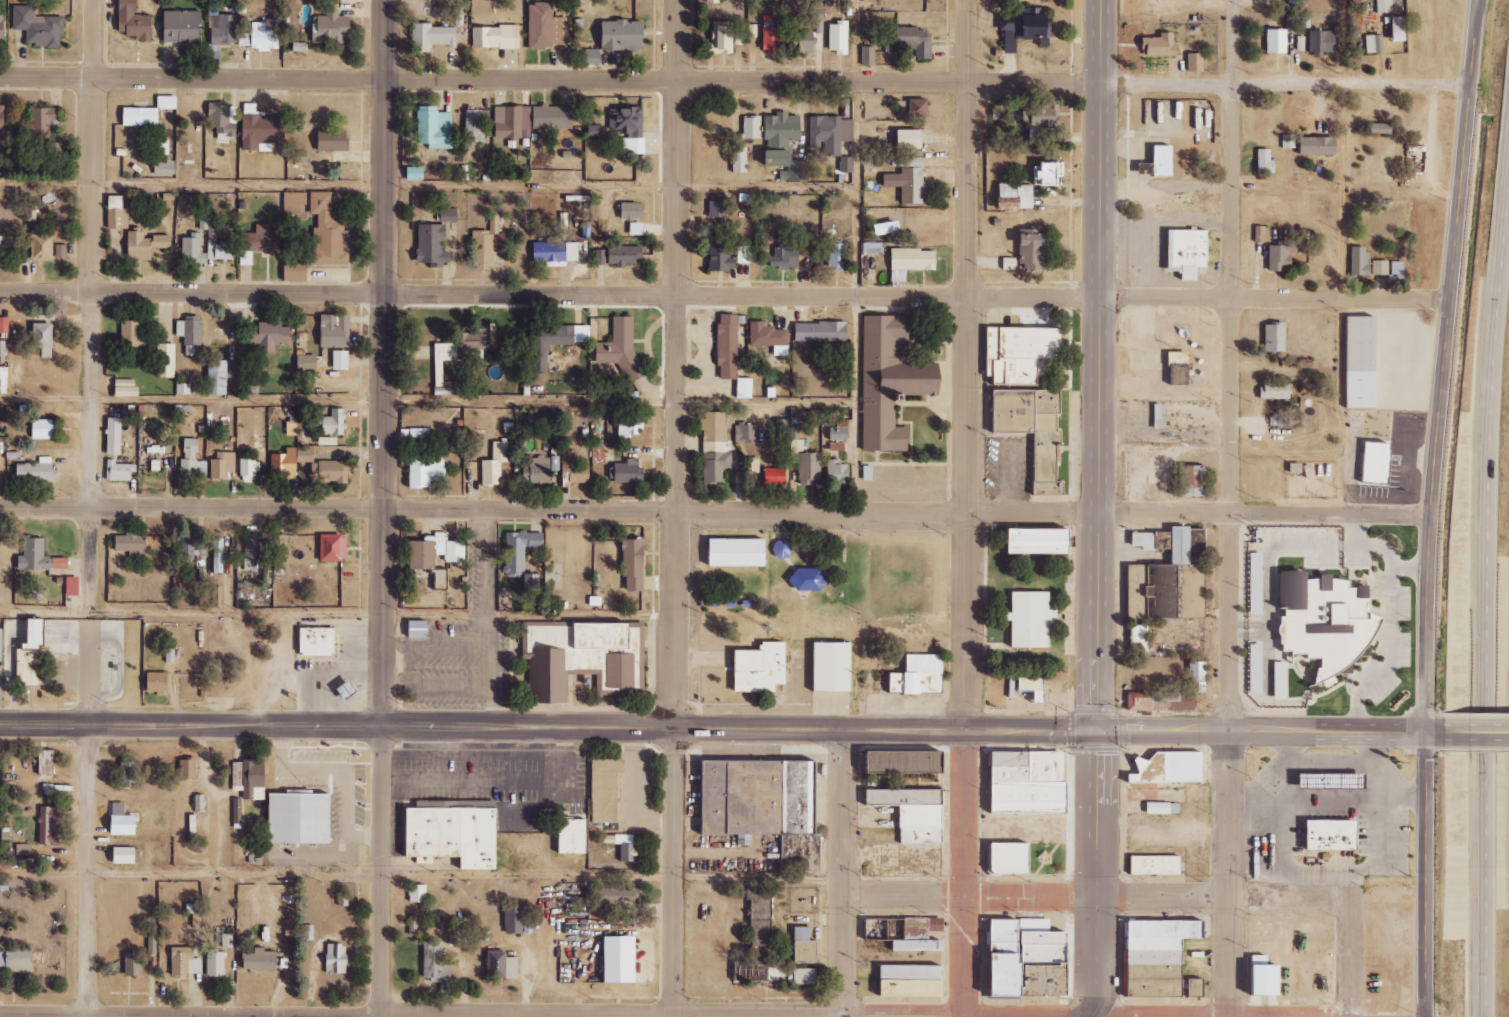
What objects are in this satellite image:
building: (1381, 6)
road: (1479, 10)
building: (134, 22)
building: (2, 27)
building: (39, 27)
building: (183, 27)
building: (546, 27)
building: (332, 28)
building: (223, 30)
building: (1391, 30)
building: (1023, 31)
building: (434, 36)
building: (624, 36)
building: (770, 36)
building: (496, 37)
building: (722, 37)
building: (259, 38)
building: (838, 38)
building: (915, 42)
building: (1272, 42)
building: (1317, 42)
building: (1371, 44)
building: (1155, 46)
building: (591, 57)
building: (867, 57)
building: (1191, 63)
road: (735, 82)
building: (166, 102)
building: (913, 108)
building: (1034, 113)
building: (142, 116)
building: (552, 117)
building: (3, 118)
building: (1044, 121)
building: (222, 122)
building: (512, 122)
building: (435, 127)
building: (629, 127)
building: (752, 127)
building: (474, 128)
building: (1376, 128)
building: (261, 130)
building: (1389, 132)
building: (829, 134)
building: (912, 139)
building: (334, 140)
building: (783, 145)
building: (1311, 146)
road: (1349, 149)
building: (297, 153)
building: (739, 159)
building: (1156, 161)
building: (1261, 163)
building: (846, 164)
building: (164, 167)
building: (1050, 174)
building: (909, 184)
road: (432, 187)
building: (717, 209)
building: (632, 210)
building: (117, 213)
building: (449, 215)
building: (886, 229)
building: (328, 232)
building: (1259, 234)
building: (192, 240)
building: (259, 242)
building: (486, 243)
building: (146, 245)
building: (433, 245)
building: (43, 246)
building: (2, 249)
building: (60, 250)
building: (1033, 250)
building: (555, 252)
building: (1195, 253)
building: (1276, 254)
building: (625, 255)
building: (745, 255)
building: (785, 256)
building: (838, 256)
building: (600, 257)
road: (864, 257)
building: (721, 258)
building: (1356, 261)
building: (912, 262)
building: (1376, 267)
building: (1393, 269)
building: (295, 271)
road: (724, 296)
road: (92, 308)
building: (4, 325)
building: (336, 330)
building: (820, 332)
building: (132, 333)
building: (190, 333)
building: (269, 335)
building: (770, 337)
building: (1271, 337)
building: (43, 339)
building: (482, 339)
building: (548, 343)
building: (621, 346)
building: (728, 346)
building: (1030, 355)
building: (444, 359)
building: (166, 360)
building: (341, 360)
building: (307, 361)
building: (1368, 363)
building: (1172, 374)
building: (218, 377)
building: (4, 380)
building: (898, 385)
building: (745, 388)
building: (1272, 389)
building: (128, 392)
road: (432, 403)
building: (1169, 422)
building: (335, 423)
building: (631, 426)
building: (43, 430)
building: (1041, 430)
building: (746, 433)
building: (114, 436)
building: (837, 446)
building: (715, 447)
building: (1384, 457)
building: (192, 460)
building: (1369, 462)
building: (285, 464)
building: (495, 464)
building: (222, 465)
building: (249, 468)
building: (809, 468)
building: (537, 470)
building: (575, 470)
building: (37, 471)
building: (119, 471)
building: (329, 471)
building: (427, 471)
building: (627, 472)
building: (838, 472)
building: (776, 477)
building: (1187, 480)
road: (1429, 507)
road: (381, 508)
road: (675, 508)
road: (968, 508)
road: (1228, 508)
road: (1097, 509)
road: (714, 512)
road: (1365, 530)
building: (1045, 539)
building: (1192, 543)
building: (132, 544)
road: (1359, 546)
building: (334, 548)
building: (184, 549)
building: (521, 550)
building: (437, 551)
building: (217, 553)
building: (744, 553)
building: (34, 556)
building: (61, 563)
building: (634, 564)
building: (1159, 569)
road: (1413, 573)
building: (441, 579)
park: (828, 582)
building: (1252, 583)
building: (73, 586)
building: (1263, 589)
road: (1487, 604)
road: (435, 613)
road: (581, 614)
road: (190, 617)
road: (488, 617)
building: (1038, 622)
building: (1336, 625)
building: (426, 633)
road: (1253, 633)
building: (37, 634)
building: (1135, 637)
building: (1, 644)
building: (324, 644)
building: (170, 655)
road: (1411, 659)
building: (588, 660)
building: (839, 668)
building: (1251, 668)
building: (27, 670)
building: (769, 671)
building: (1263, 671)
road: (303, 673)
building: (1194, 676)
building: (926, 677)
building: (1275, 679)
building: (158, 682)
building: (1289, 684)
building: (1026, 687)
building: (1041, 689)
building: (354, 691)
gas station: (354, 691)
road: (316, 699)
building: (1157, 701)
road: (721, 727)
traffic signals: (1097, 731)
road: (1476, 732)
building: (912, 761)
building: (47, 762)
building: (188, 769)
building: (134, 774)
building: (250, 779)
building: (1339, 781)
gas station: (1339, 781)
building: (1020, 782)
building: (606, 790)
building: (750, 798)
building: (807, 798)
building: (912, 798)
building: (1157, 808)
building: (237, 811)
building: (928, 816)
building: (302, 819)
building: (124, 821)
road: (88, 824)
building: (48, 826)
building: (456, 835)
building: (1338, 835)
building: (929, 836)
building: (574, 837)
building: (24, 850)
building: (809, 854)
building: (126, 856)
building: (1004, 857)
building: (1151, 865)
road: (842, 872)
road: (421, 878)
building: (418, 893)
road: (1101, 894)
building: (760, 917)
building: (514, 920)
building: (914, 927)
building: (1199, 929)
building: (1161, 930)
building: (455, 936)
building: (227, 941)
building: (910, 944)
building: (1161, 945)
building: (806, 946)
road: (1359, 957)
building: (1018, 958)
building: (17, 959)
building: (336, 959)
building: (1162, 959)
building: (261, 960)
building: (622, 960)
building: (185, 962)
building: (435, 962)
building: (215, 964)
building: (133, 965)
building: (755, 974)
building: (807, 976)
building: (1257, 980)
building: (1162, 981)
road: (263, 1016)
road: (1091, 1016)

